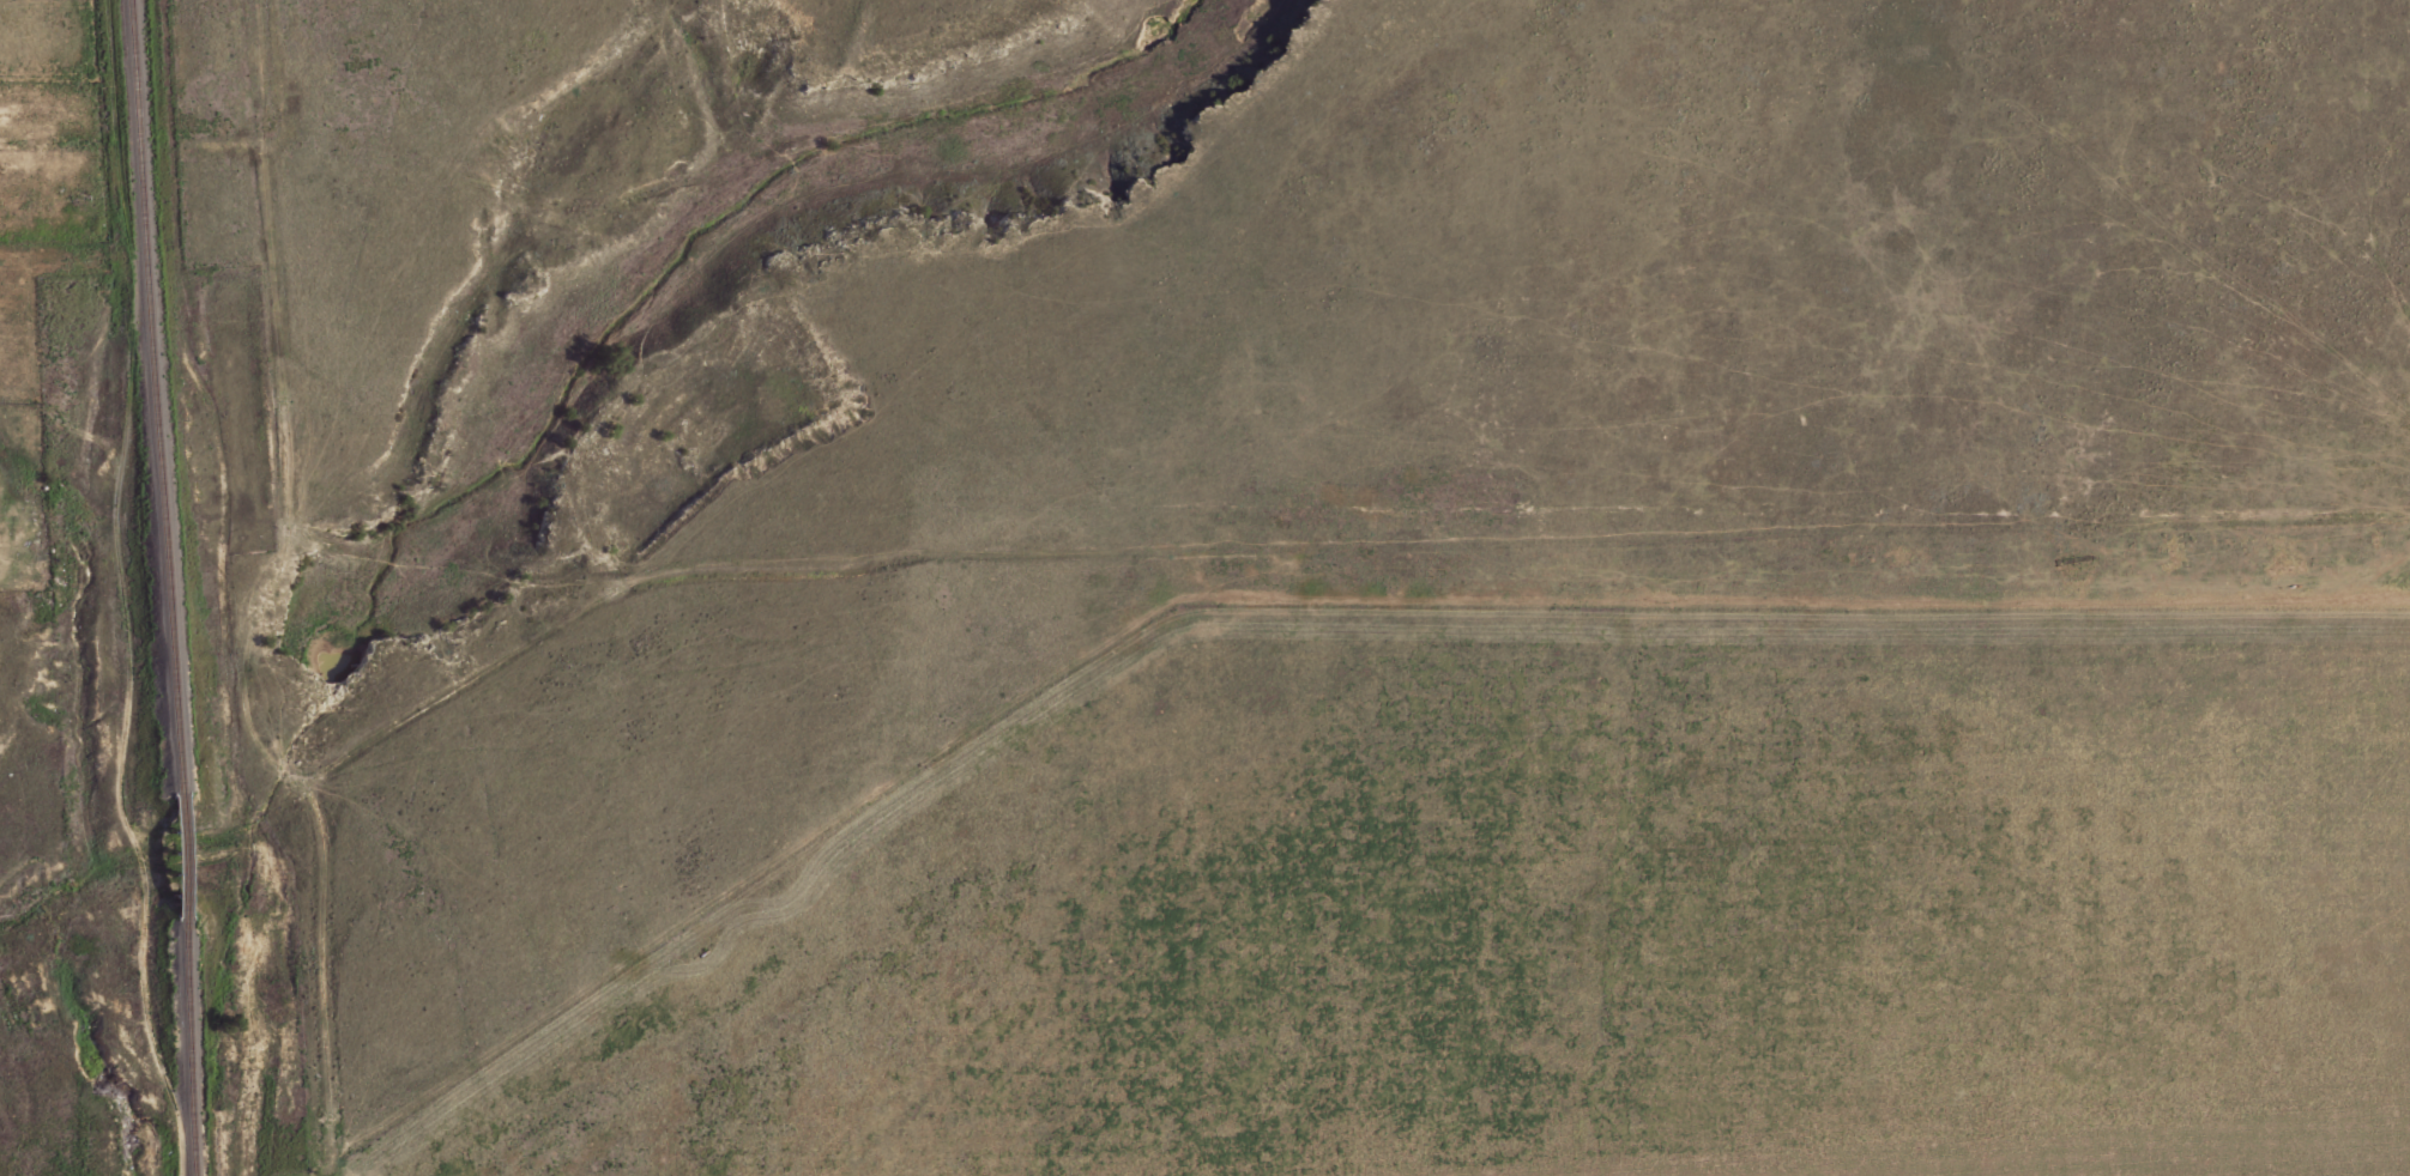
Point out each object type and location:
railway: (167, 588)

